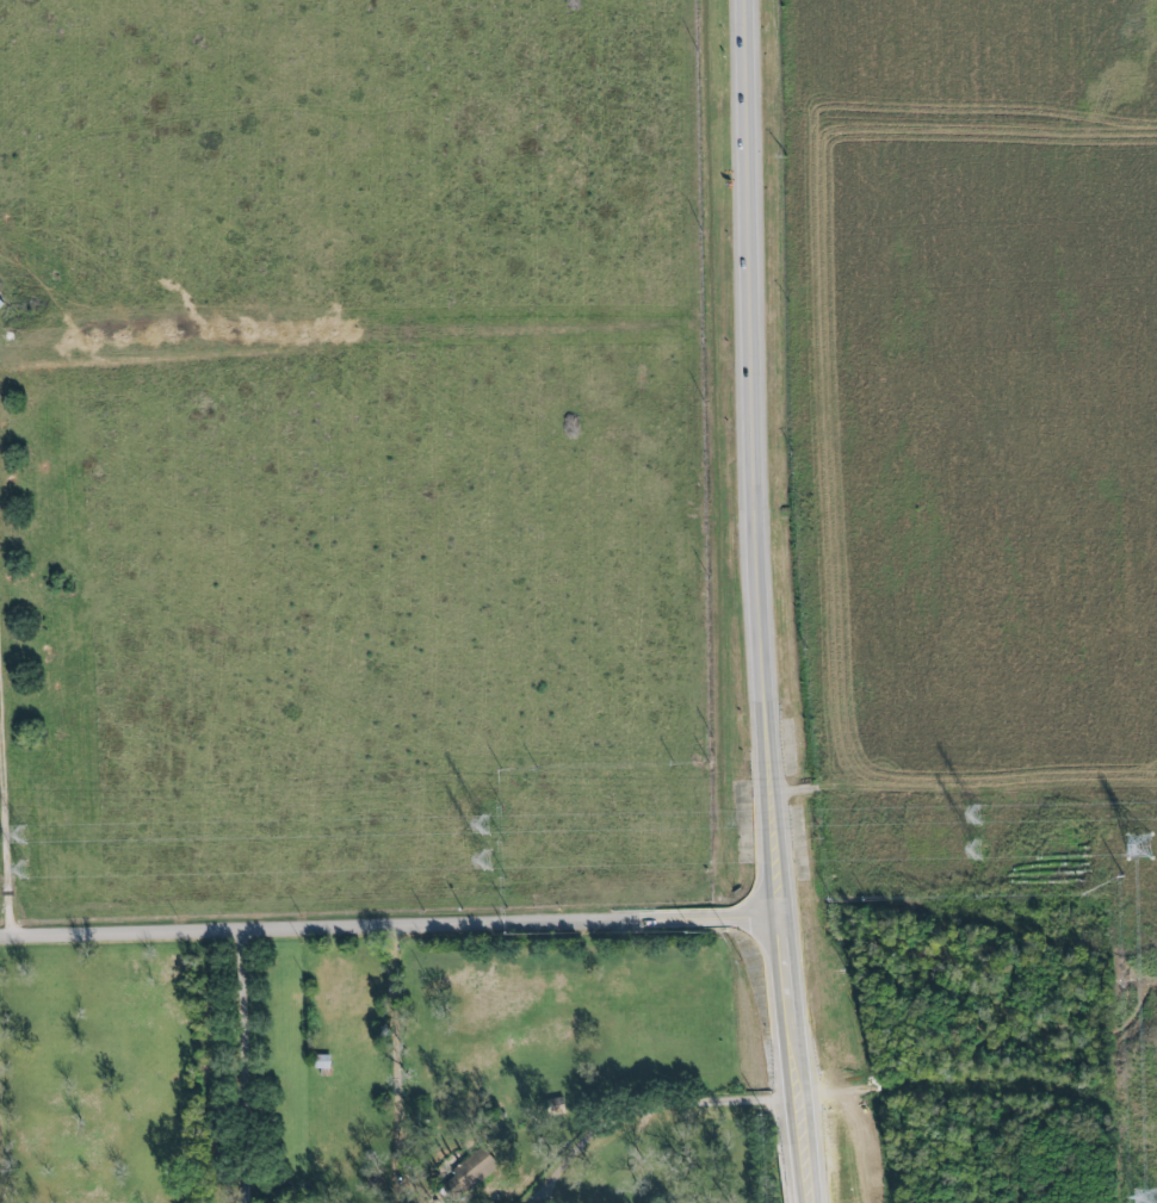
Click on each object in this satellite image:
building: (1, 304)
road: (756, 550)
power tower: (976, 816)
power tower: (483, 824)
road: (5, 832)
power tower: (21, 833)
power tower: (1139, 847)
power tower: (976, 851)
power tower: (485, 861)
power tower: (23, 870)
road: (390, 925)
building: (326, 1062)
road: (243, 1066)
road: (396, 1077)
road: (642, 1103)
road: (806, 1151)
building: (469, 1176)
road: (0, 1195)
power tower: (1149, 1198)

